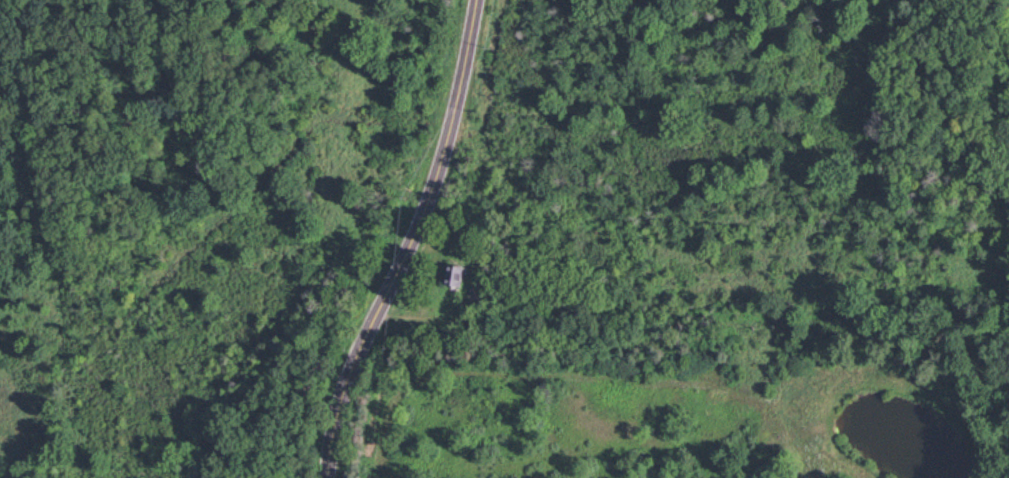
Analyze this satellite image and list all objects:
road: (409, 242)
building: (453, 277)

